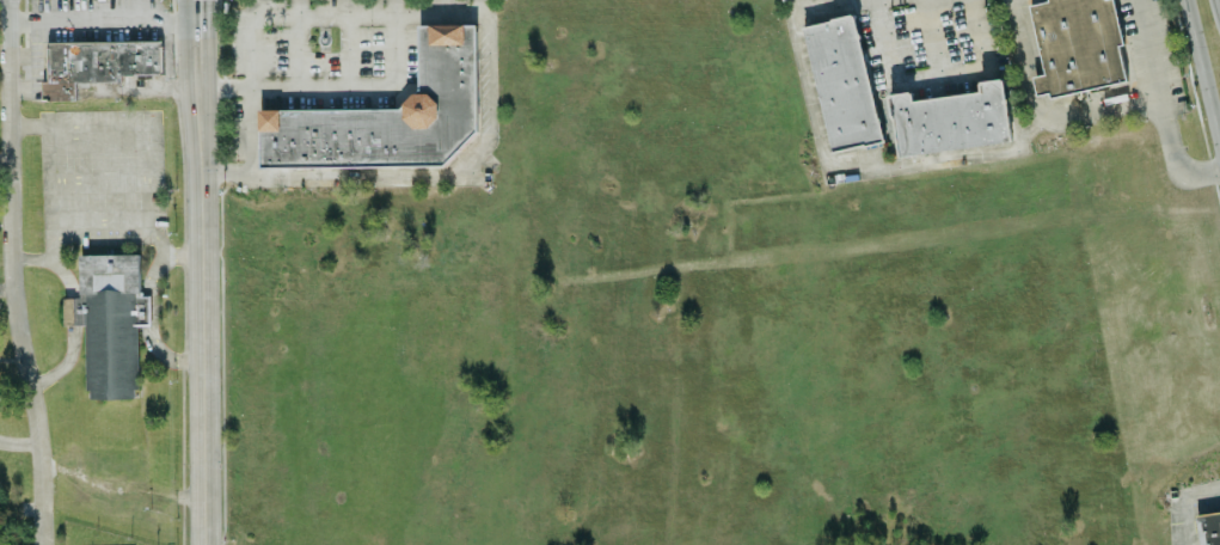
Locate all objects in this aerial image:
road: (799, 4)
road: (830, 5)
road: (137, 10)
road: (283, 13)
road: (104, 19)
road: (936, 37)
road: (300, 43)
building: (1077, 45)
road: (348, 49)
building: (96, 63)
road: (934, 76)
road: (1200, 78)
building: (841, 84)
road: (337, 86)
road: (1161, 105)
road: (1041, 115)
building: (388, 116)
building: (949, 120)
road: (6, 158)
road: (865, 171)
road: (225, 173)
road: (443, 176)
road: (102, 178)
road: (59, 197)
road: (145, 201)
road: (102, 222)
road: (179, 255)
road: (202, 271)
road: (14, 272)
road: (7, 287)
road: (70, 312)
building: (109, 323)
building: (0, 385)
road: (19, 443)
road: (1181, 501)
building: (1208, 528)

